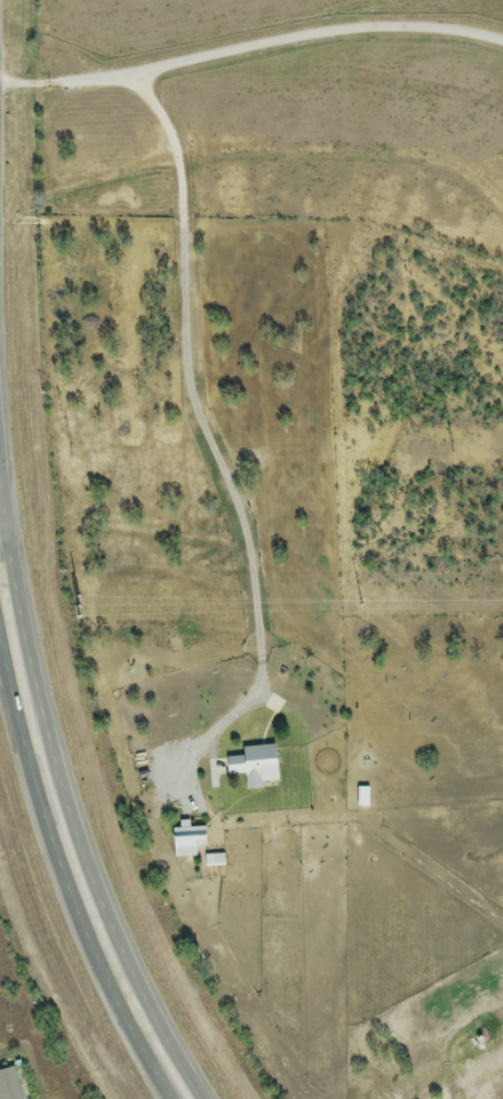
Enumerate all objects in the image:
road: (251, 46)
road: (213, 446)
power tower: (452, 449)
road: (4, 547)
power tower: (356, 605)
power tower: (72, 606)
building: (252, 766)
road: (65, 799)
road: (67, 883)
building: (9, 1085)

